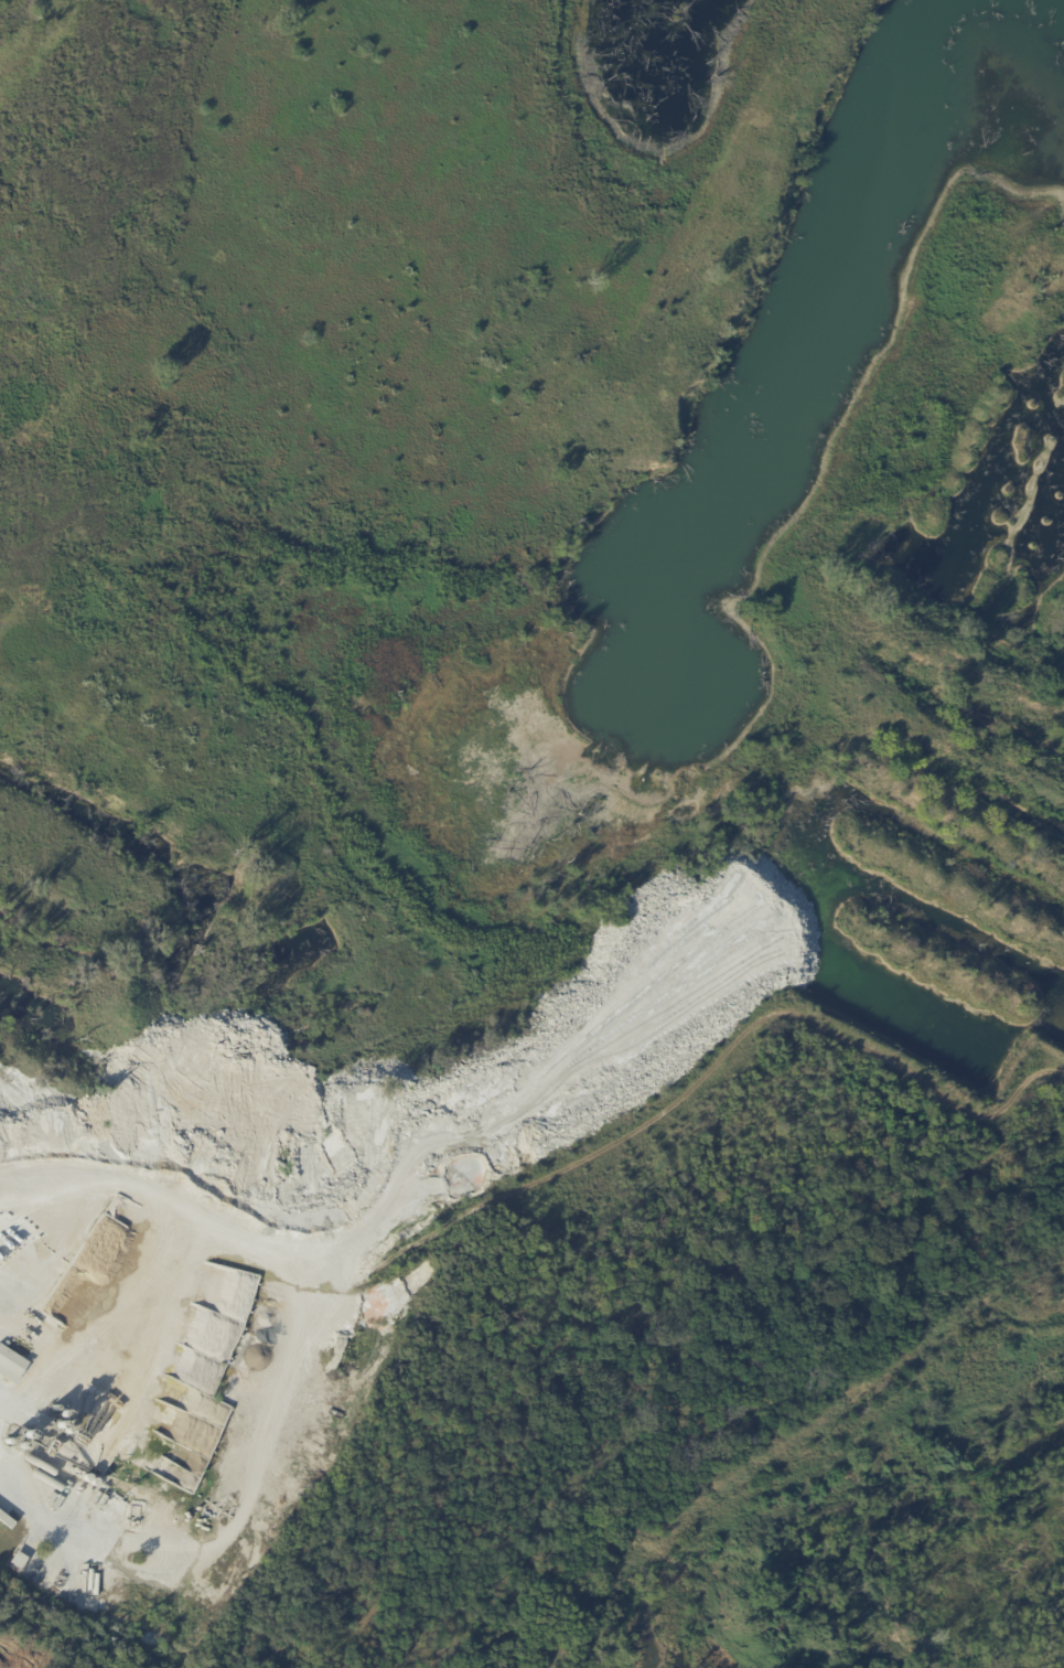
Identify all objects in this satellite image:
building: (11, 1365)
building: (7, 1521)

